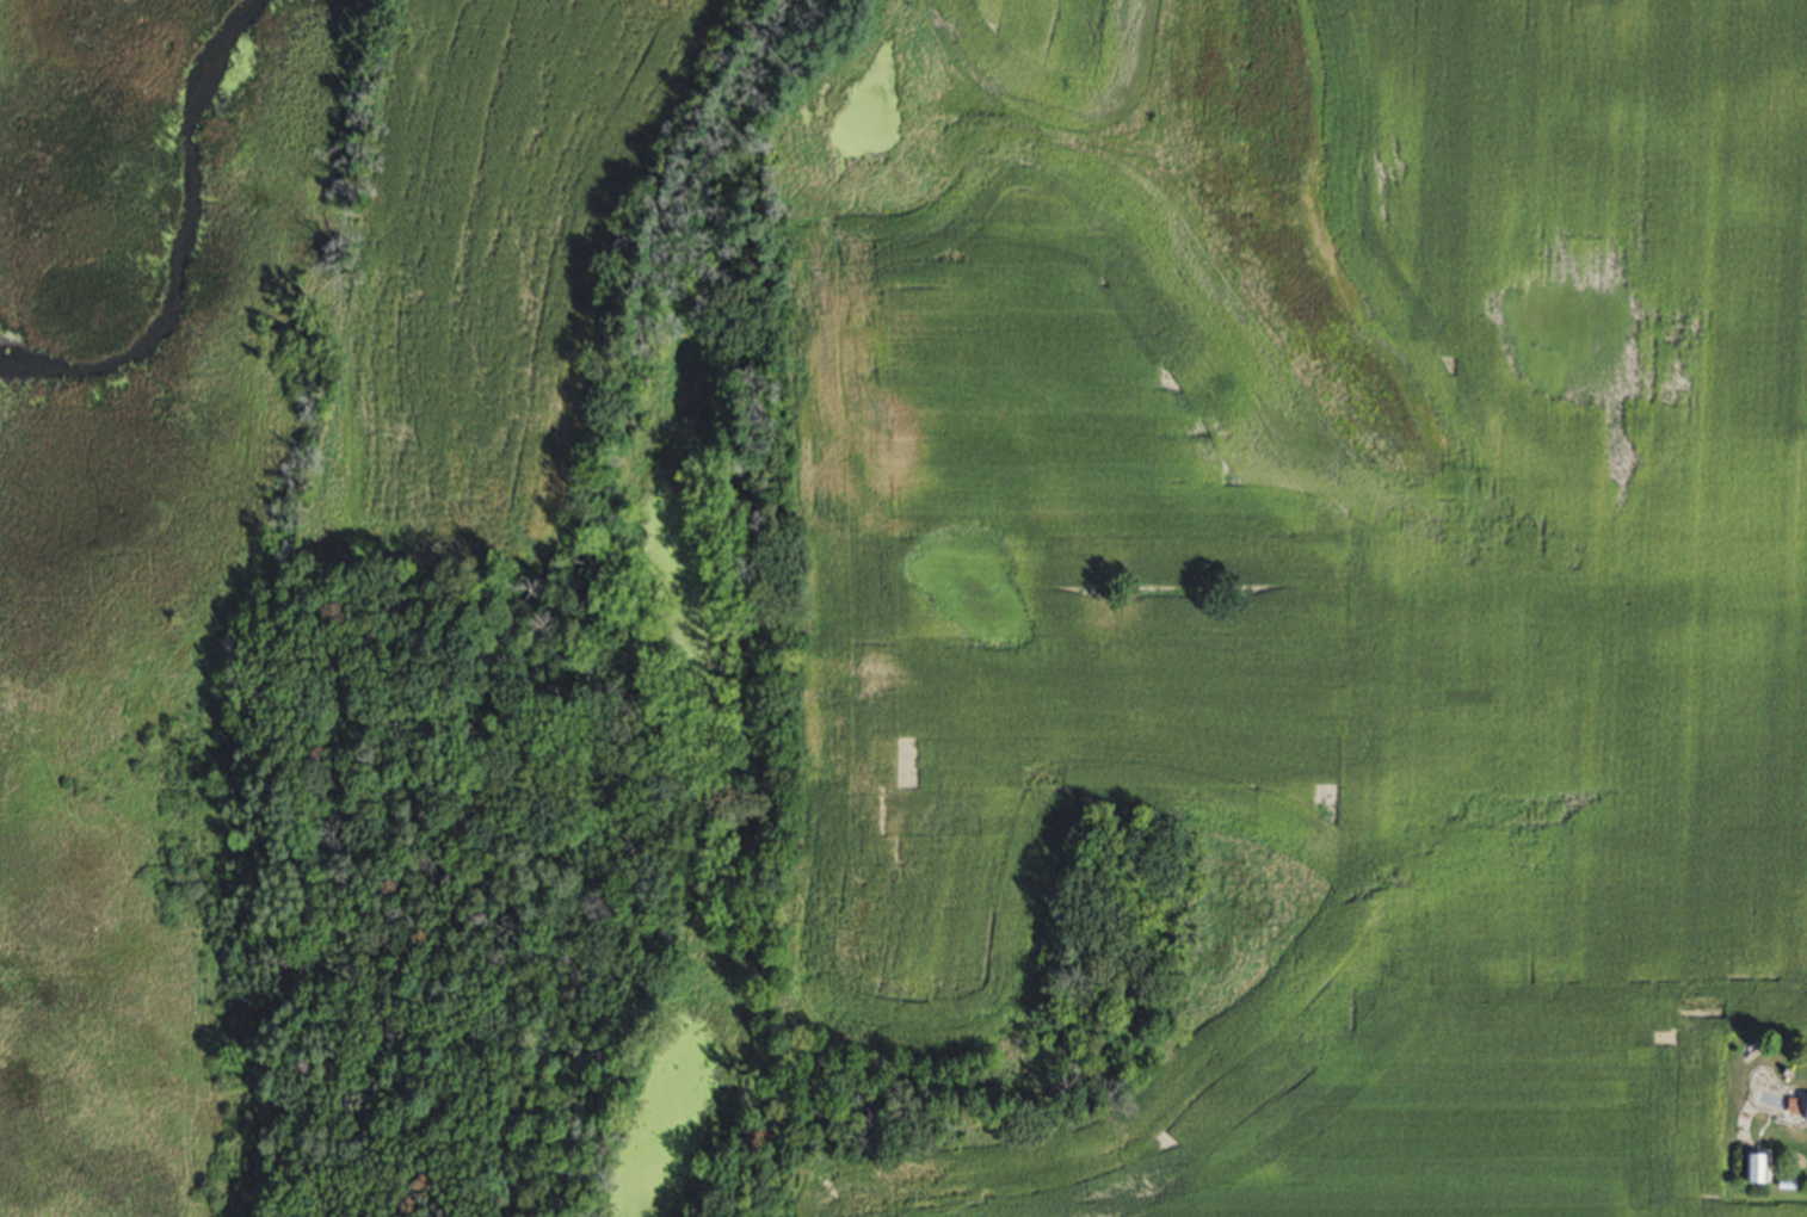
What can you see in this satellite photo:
building: (1752, 1169)

